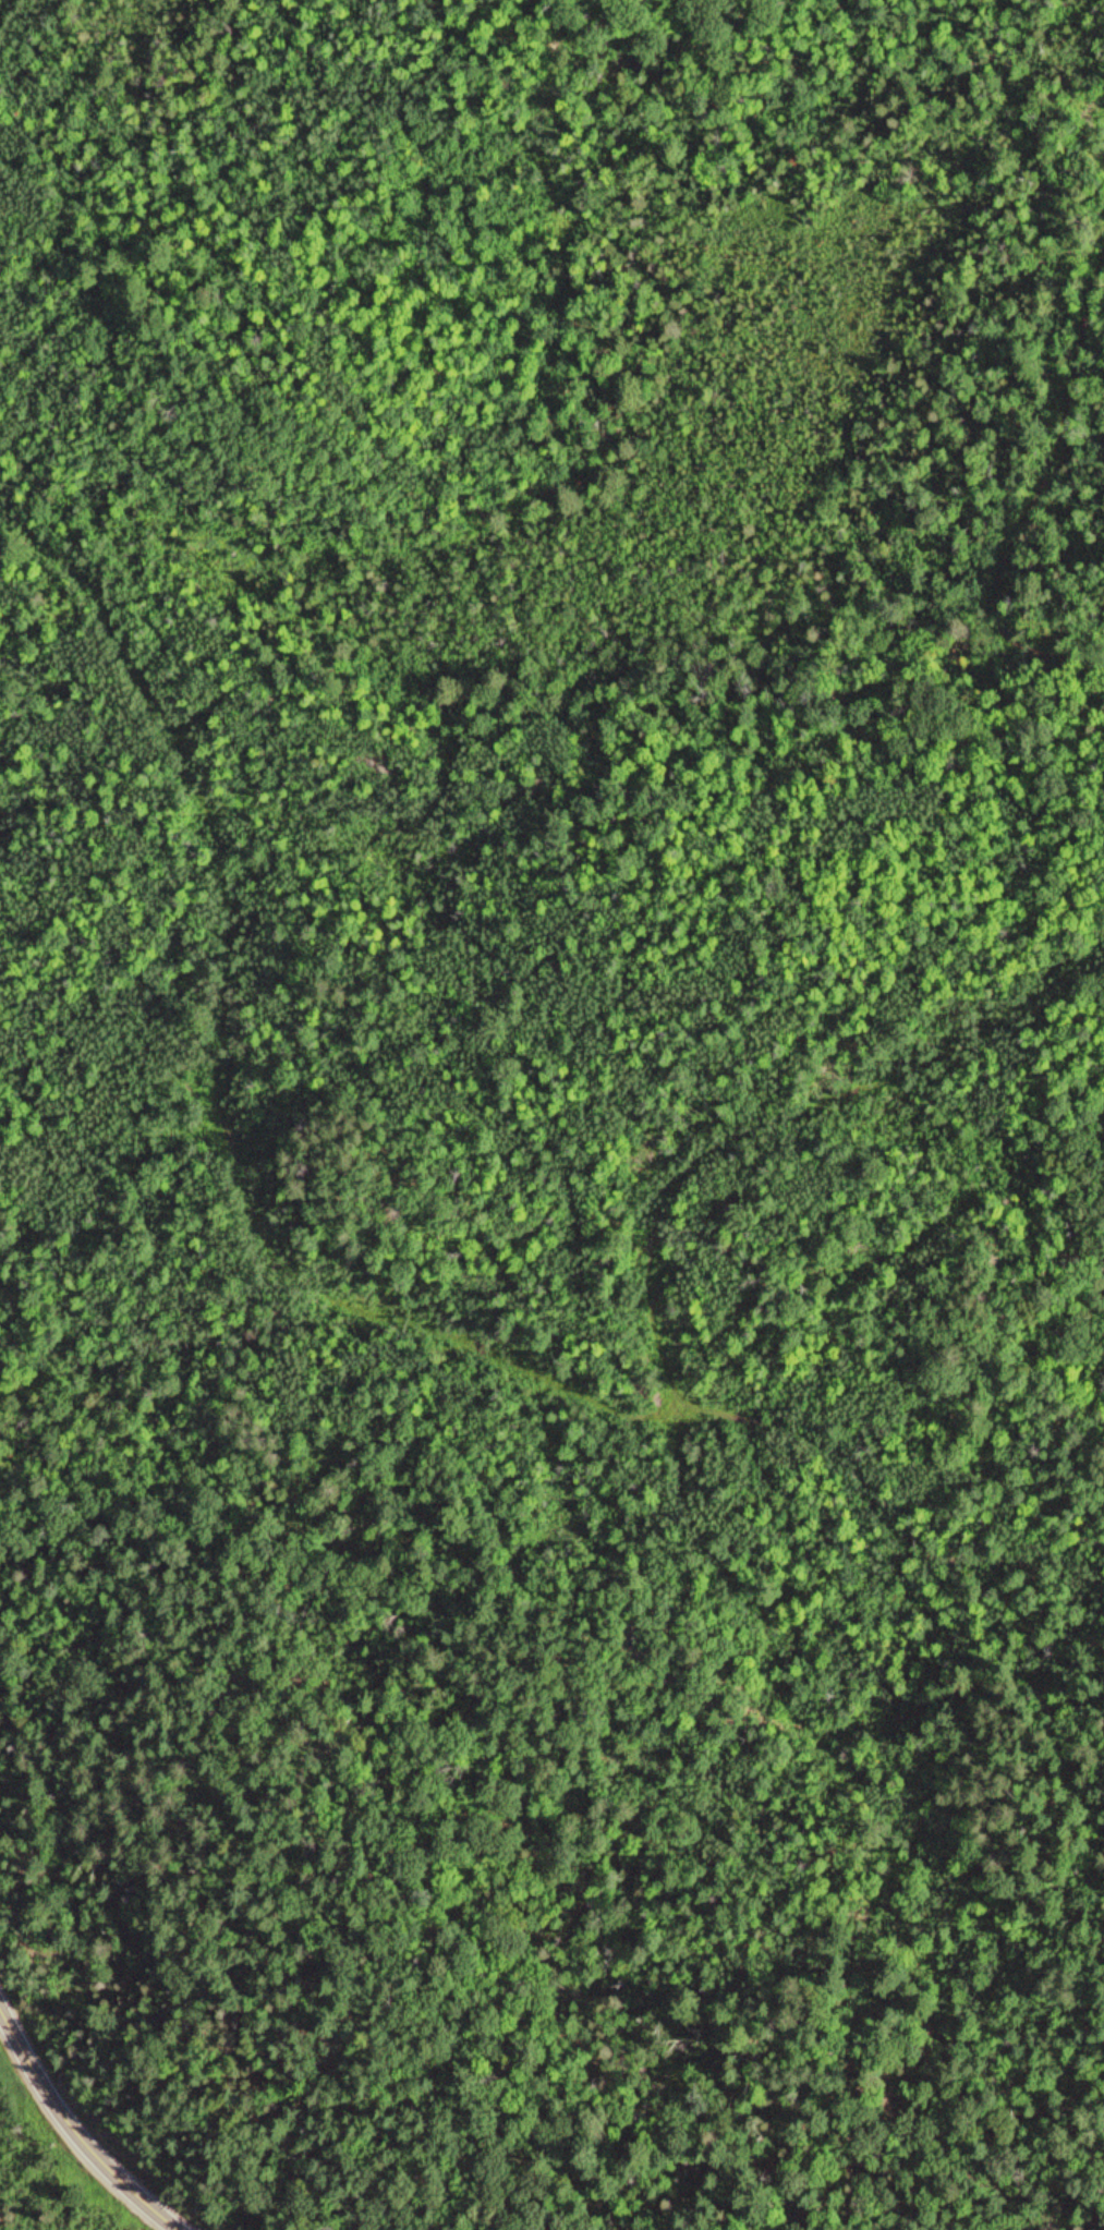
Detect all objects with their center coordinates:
road: (75, 2126)

